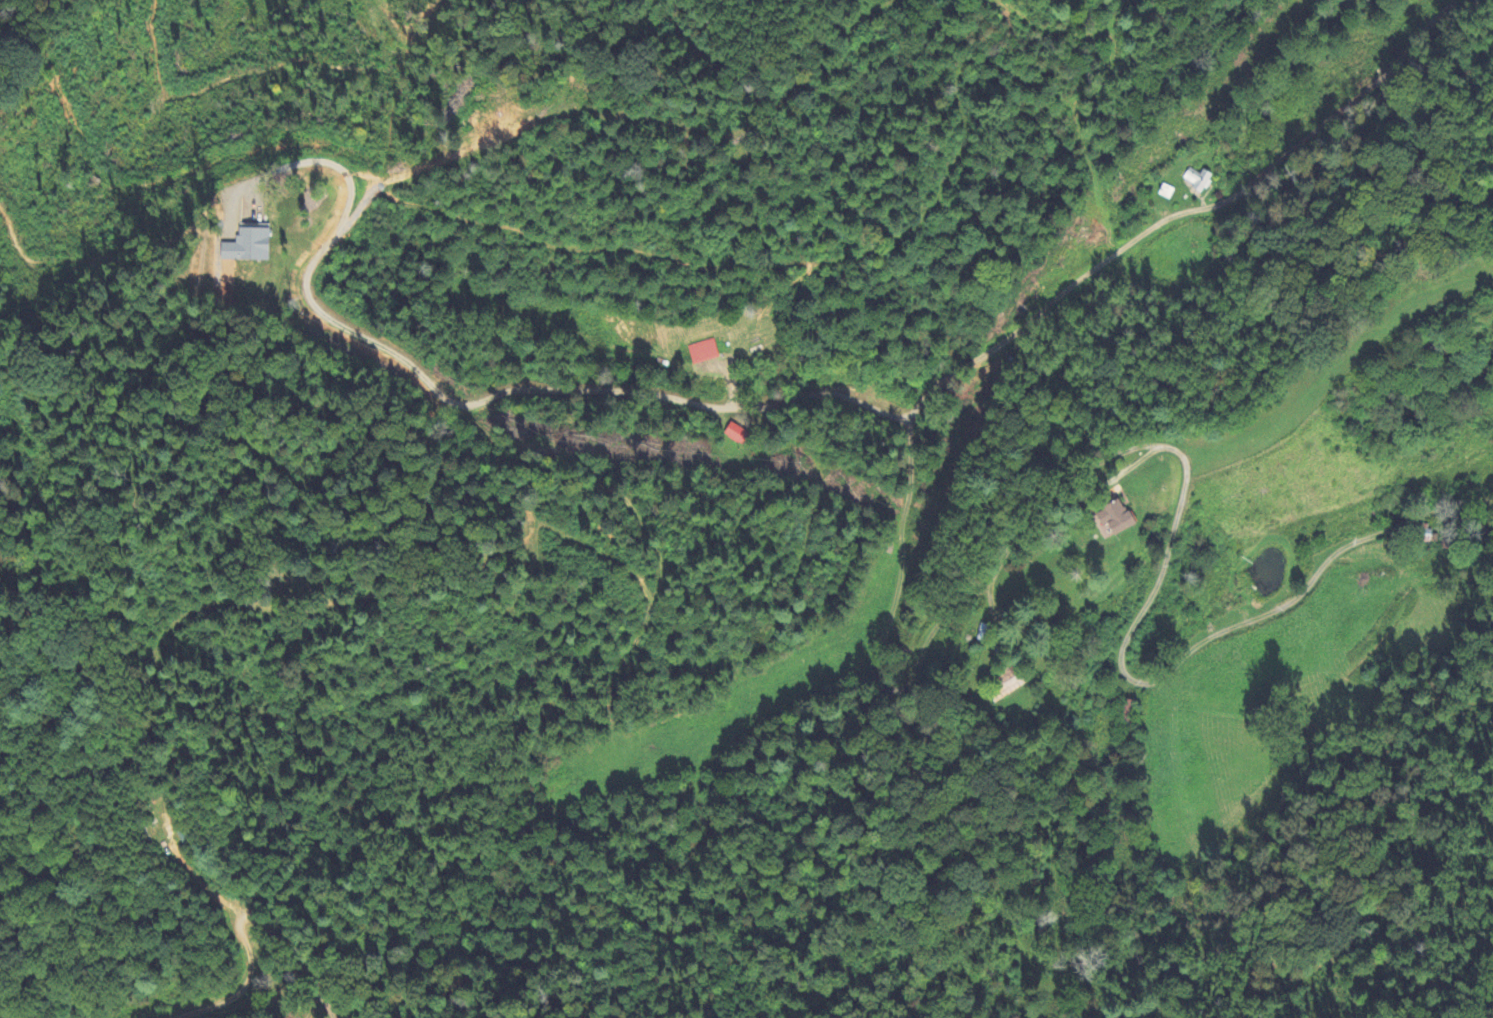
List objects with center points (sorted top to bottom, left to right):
building: (1196, 180)
building: (1123, 521)
building: (1005, 682)
building: (1126, 714)

